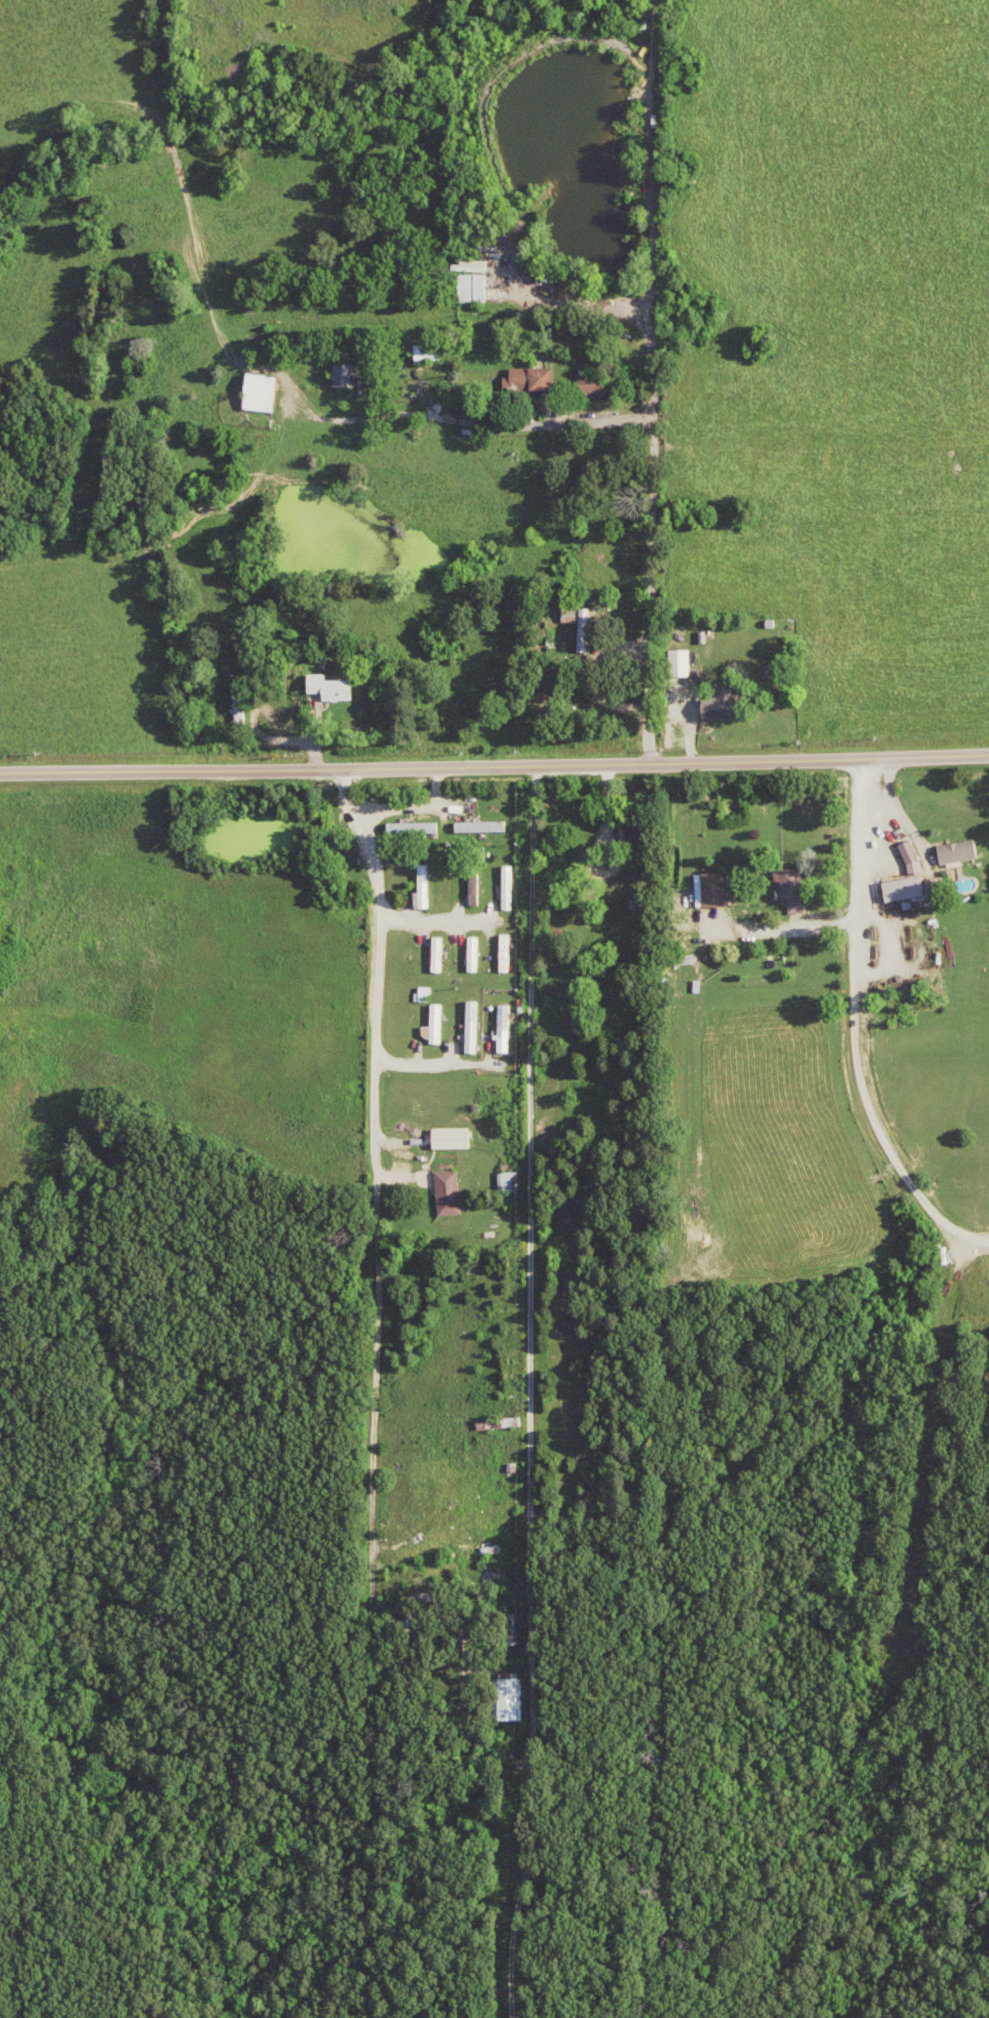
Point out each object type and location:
building: (479, 288)
building: (433, 352)
building: (349, 376)
building: (538, 379)
road: (656, 383)
building: (598, 385)
building: (266, 393)
building: (584, 625)
building: (685, 662)
building: (337, 687)
building: (724, 704)
road: (494, 769)
building: (421, 827)
building: (639, 835)
building: (964, 851)
building: (918, 860)
building: (512, 887)
building: (427, 888)
building: (941, 888)
building: (800, 889)
building: (717, 890)
building: (510, 953)
building: (478, 954)
building: (439, 1025)
building: (476, 1027)
building: (508, 1029)
road: (857, 1029)
building: (456, 1138)
building: (512, 1182)
building: (451, 1192)
road: (535, 1394)
building: (515, 1699)

